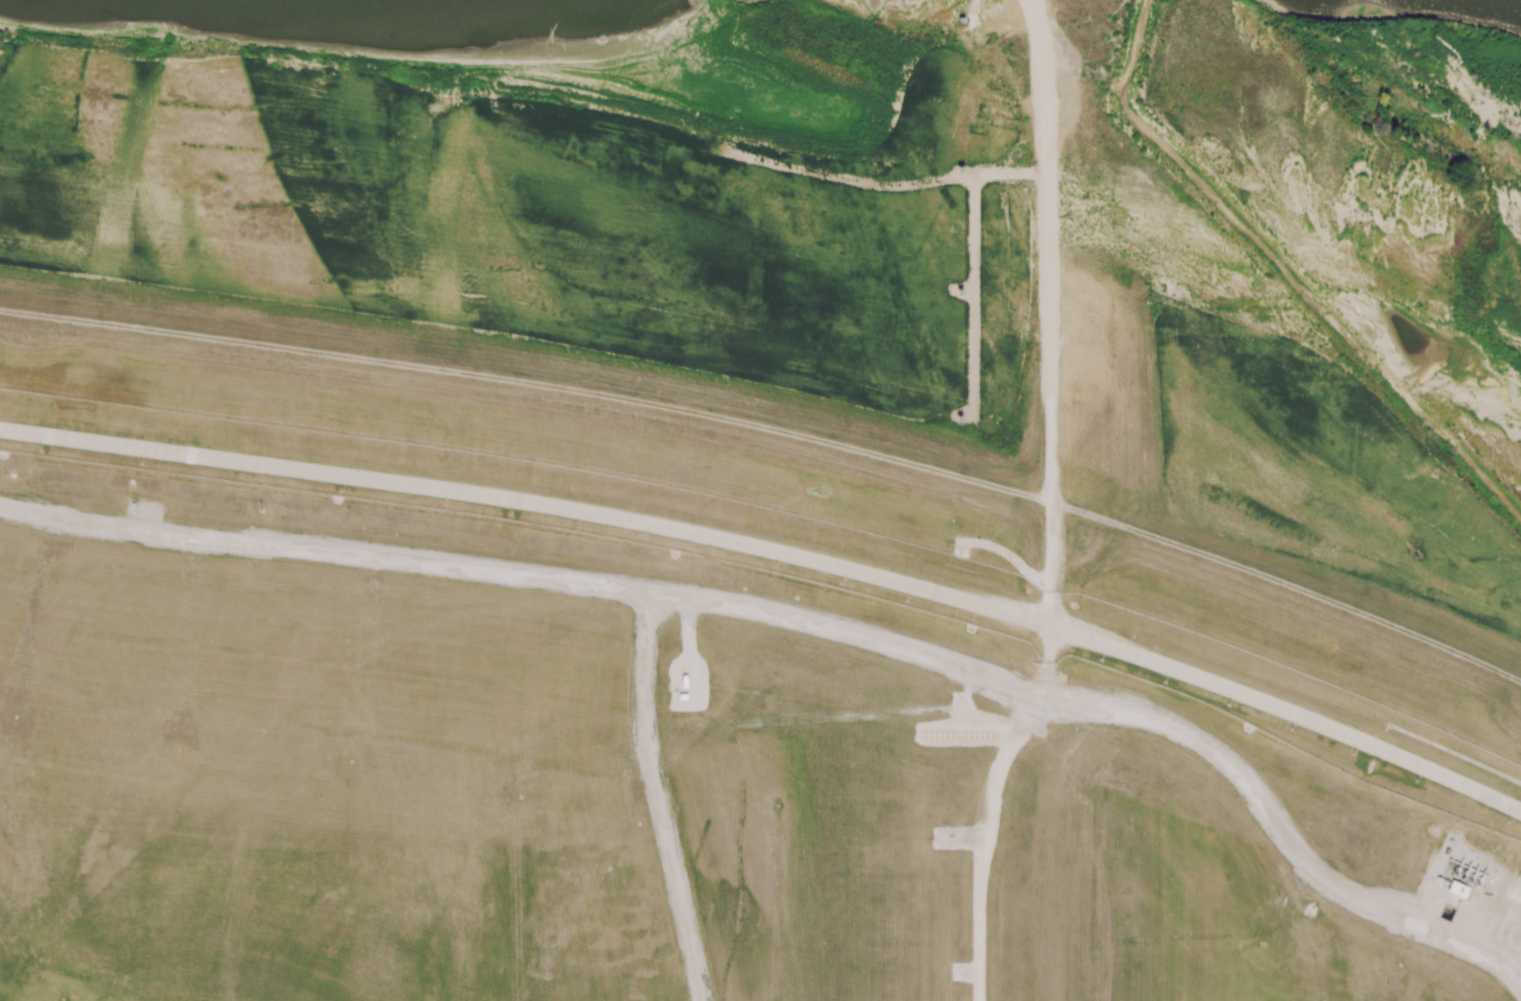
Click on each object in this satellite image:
road: (973, 9)
road: (968, 266)
road: (1047, 312)
road: (1006, 552)
road: (778, 553)
road: (812, 625)
airport: (661, 753)
road: (656, 798)
road: (987, 806)
building: (1457, 889)

